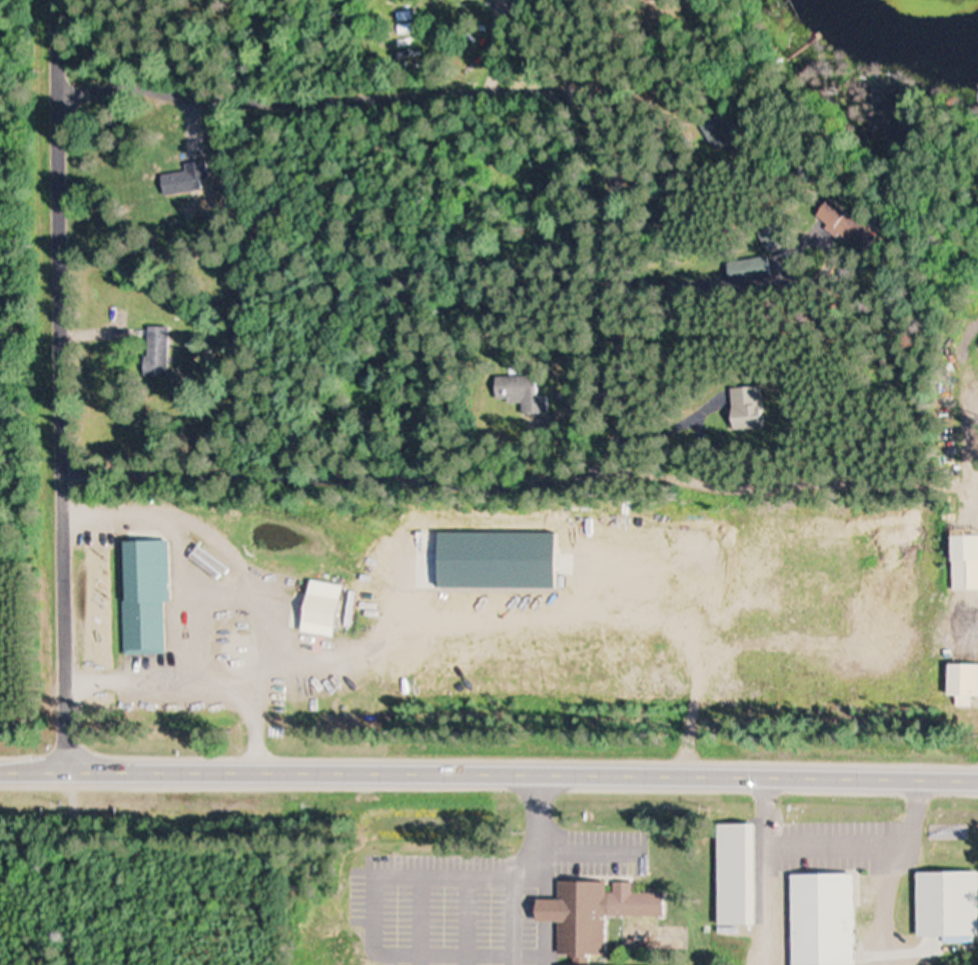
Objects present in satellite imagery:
road: (631, 91)
road: (329, 100)
building: (720, 129)
building: (183, 180)
road: (656, 270)
building: (751, 270)
building: (160, 351)
road: (62, 381)
building: (522, 392)
building: (756, 407)
road: (365, 473)
road: (804, 475)
building: (963, 563)
building: (326, 611)
building: (960, 682)
road: (489, 767)
building: (601, 916)
building: (832, 920)

